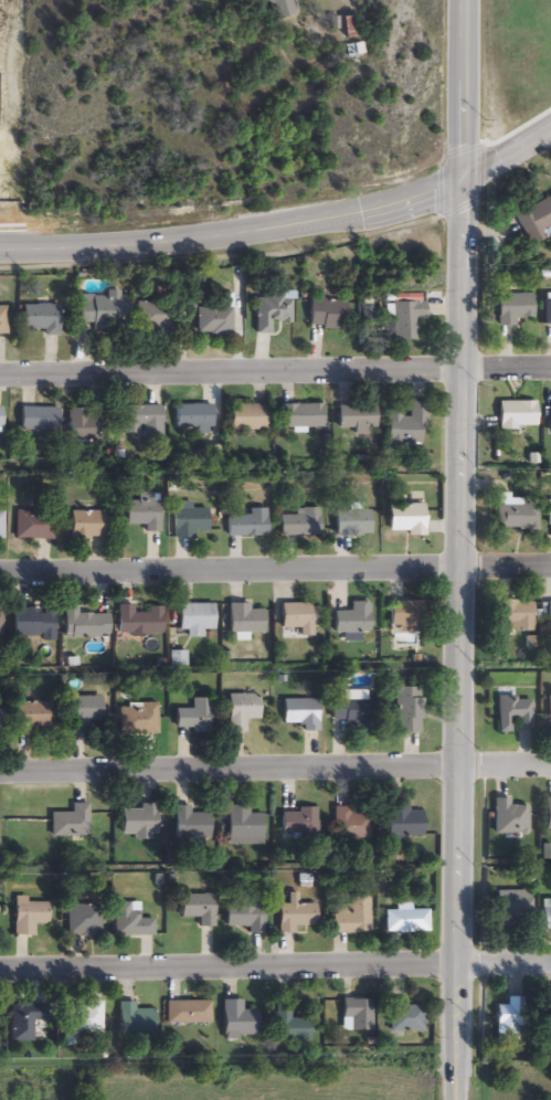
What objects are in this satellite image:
building: (278, 9)
building: (351, 28)
building: (357, 51)
building: (534, 222)
road: (286, 226)
building: (100, 309)
building: (512, 310)
building: (272, 313)
building: (548, 313)
building: (328, 315)
building: (153, 317)
building: (214, 319)
building: (40, 320)
building: (3, 321)
building: (406, 321)
road: (275, 376)
building: (515, 417)
building: (193, 419)
building: (246, 419)
building: (299, 419)
building: (354, 419)
building: (1, 420)
building: (39, 421)
building: (549, 421)
building: (141, 424)
building: (84, 426)
building: (404, 426)
building: (144, 514)
building: (518, 514)
building: (549, 514)
building: (405, 519)
building: (192, 523)
building: (354, 523)
building: (2, 525)
building: (34, 526)
building: (87, 526)
building: (250, 526)
building: (301, 526)
road: (462, 550)
road: (275, 572)
building: (513, 616)
building: (406, 617)
building: (548, 617)
building: (195, 620)
building: (299, 620)
building: (353, 620)
building: (245, 621)
building: (140, 623)
building: (34, 624)
building: (84, 625)
building: (1, 626)
building: (351, 711)
building: (242, 712)
building: (409, 712)
building: (85, 713)
building: (301, 715)
building: (515, 716)
building: (549, 716)
building: (195, 717)
building: (34, 718)
building: (138, 720)
building: (2, 723)
road: (275, 768)
building: (548, 816)
building: (510, 819)
building: (72, 823)
building: (138, 823)
building: (191, 824)
building: (300, 824)
building: (404, 824)
building: (352, 825)
building: (245, 827)
building: (200, 909)
building: (511, 913)
building: (245, 914)
building: (352, 917)
building: (545, 917)
building: (30, 918)
building: (298, 920)
building: (86, 921)
building: (406, 921)
building: (133, 922)
road: (275, 965)
building: (190, 1014)
building: (358, 1017)
building: (549, 1017)
building: (85, 1018)
building: (406, 1018)
building: (135, 1022)
building: (240, 1022)
building: (507, 1024)
building: (30, 1025)
building: (290, 1027)

